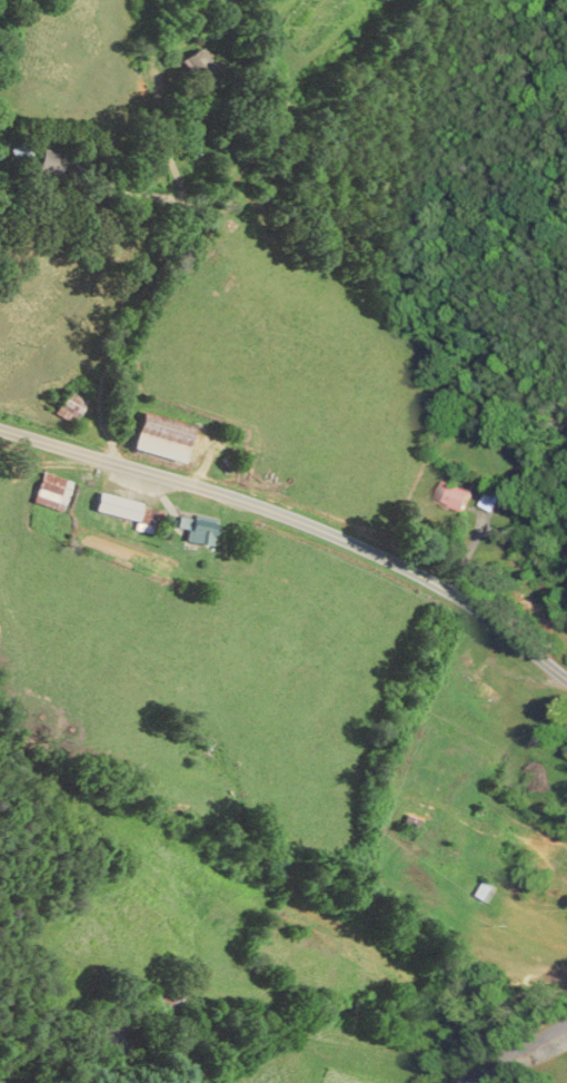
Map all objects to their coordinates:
building: (201, 69)
road: (320, 121)
building: (20, 151)
building: (51, 164)
road: (159, 266)
building: (68, 407)
building: (163, 436)
building: (51, 492)
building: (454, 496)
building: (491, 500)
building: (130, 512)
road: (298, 521)
building: (198, 530)
building: (478, 683)
building: (520, 868)
building: (480, 890)
building: (166, 1005)
road: (507, 1053)

